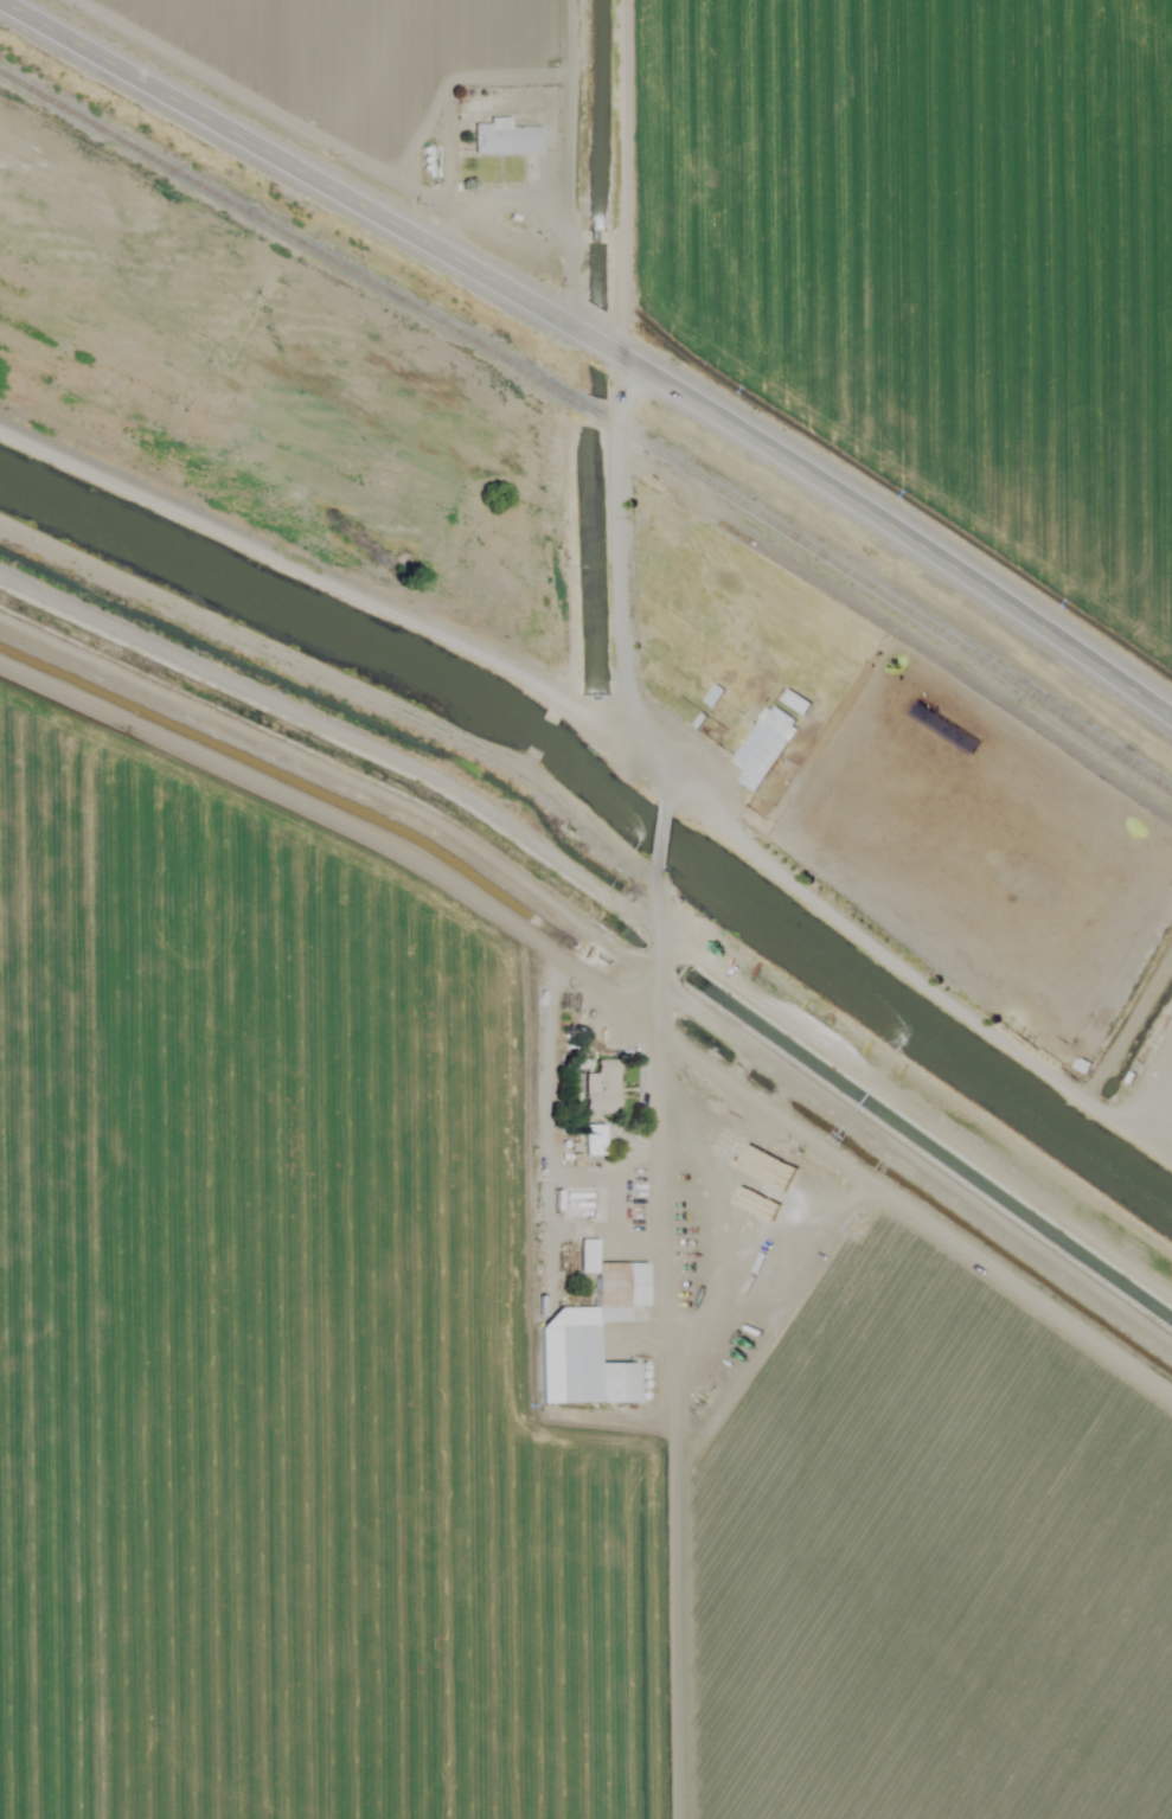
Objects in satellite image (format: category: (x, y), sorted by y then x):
crop: (894, 23)
crop: (364, 95)
building: (504, 137)
road: (283, 160)
road: (563, 160)
road: (633, 181)
road: (498, 213)
railway: (290, 237)
crop: (928, 289)
road: (598, 342)
railway: (593, 411)
road: (273, 473)
road: (904, 536)
railway: (891, 601)
building: (710, 694)
building: (792, 700)
building: (760, 745)
road: (600, 941)
building: (598, 1089)
building: (591, 1139)
road: (549, 1157)
building: (585, 1255)
crop: (325, 1315)
building: (587, 1344)
crop: (909, 1492)

